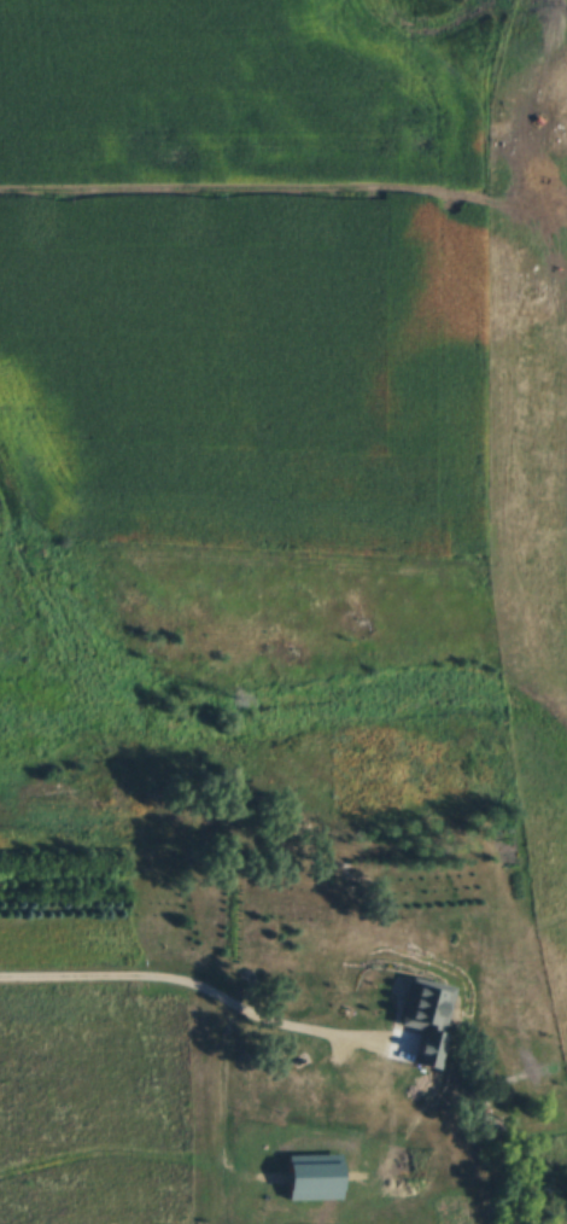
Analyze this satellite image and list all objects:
road: (191, 983)
building: (426, 1016)

